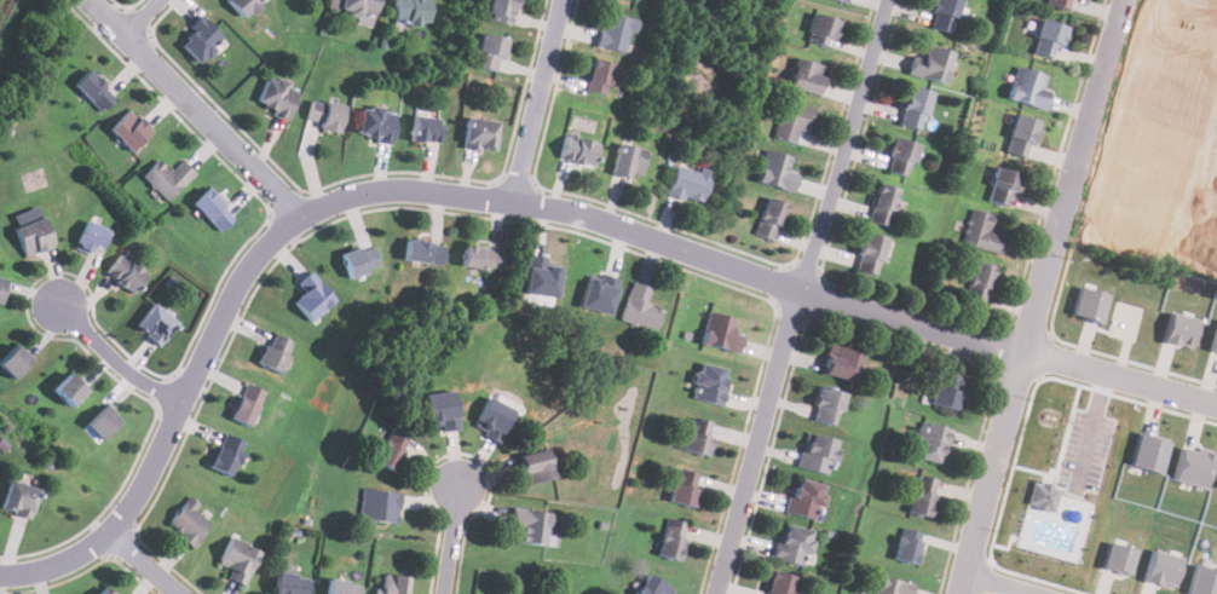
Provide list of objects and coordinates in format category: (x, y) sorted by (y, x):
building: (841, 1)
building: (1060, 4)
building: (243, 5)
building: (358, 7)
building: (501, 10)
building: (411, 12)
building: (942, 15)
road: (143, 17)
building: (821, 30)
building: (615, 31)
building: (1048, 40)
building: (200, 41)
building: (490, 51)
building: (932, 64)
building: (598, 76)
building: (807, 77)
building: (1028, 87)
building: (93, 92)
building: (276, 97)
road: (538, 99)
road: (197, 106)
building: (912, 108)
building: (324, 115)
building: (791, 122)
building: (375, 123)
building: (425, 129)
building: (128, 131)
building: (479, 134)
building: (1021, 137)
building: (576, 150)
building: (899, 157)
building: (628, 162)
building: (775, 171)
building: (166, 178)
building: (688, 184)
building: (1002, 188)
road: (526, 202)
building: (882, 204)
building: (209, 211)
building: (768, 219)
building: (981, 233)
building: (31, 237)
building: (91, 238)
building: (422, 253)
building: (869, 254)
building: (480, 259)
building: (359, 261)
building: (125, 273)
building: (541, 277)
building: (979, 284)
building: (1, 287)
building: (599, 293)
road: (1039, 295)
road: (802, 296)
building: (311, 298)
building: (1089, 304)
building: (639, 310)
building: (154, 324)
building: (1178, 329)
building: (720, 334)
building: (1213, 339)
building: (275, 353)
road: (115, 359)
building: (12, 363)
building: (840, 364)
building: (709, 383)
building: (68, 391)
building: (946, 391)
building: (246, 404)
building: (826, 406)
building: (440, 409)
building: (494, 417)
building: (102, 423)
building: (697, 437)
building: (928, 443)
building: (391, 450)
building: (1147, 452)
building: (817, 454)
building: (225, 455)
building: (1190, 466)
building: (535, 467)
building: (684, 488)
building: (1042, 496)
building: (18, 497)
building: (922, 497)
building: (804, 498)
building: (377, 506)
building: (189, 521)
building: (530, 525)
road: (454, 532)
building: (673, 540)
building: (791, 546)
building: (907, 547)
building: (1118, 558)
building: (237, 560)
road: (143, 563)
building: (1161, 567)
building: (1202, 579)
road: (1007, 582)
building: (290, 583)
building: (777, 583)
building: (392, 584)
building: (652, 586)
building: (342, 587)
building: (889, 587)
building: (103, 592)

